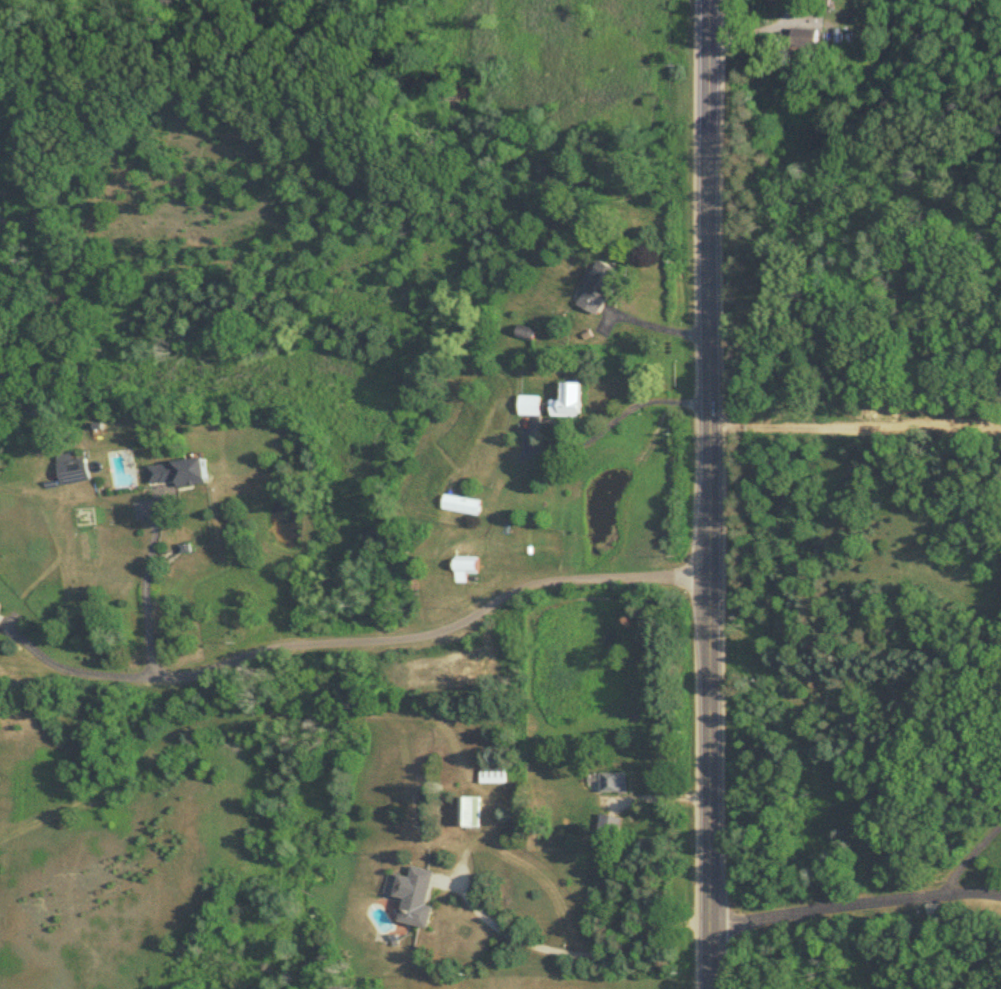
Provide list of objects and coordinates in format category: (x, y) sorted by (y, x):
building: (806, 40)
building: (600, 288)
road: (655, 327)
building: (570, 402)
building: (530, 407)
road: (615, 417)
building: (73, 470)
building: (178, 473)
road: (708, 494)
building: (462, 504)
building: (465, 568)
road: (142, 591)
road: (433, 626)
road: (71, 670)
building: (491, 772)
building: (609, 782)
building: (469, 811)
building: (608, 828)
building: (416, 896)
road: (854, 907)
road: (930, 942)
road: (575, 952)

